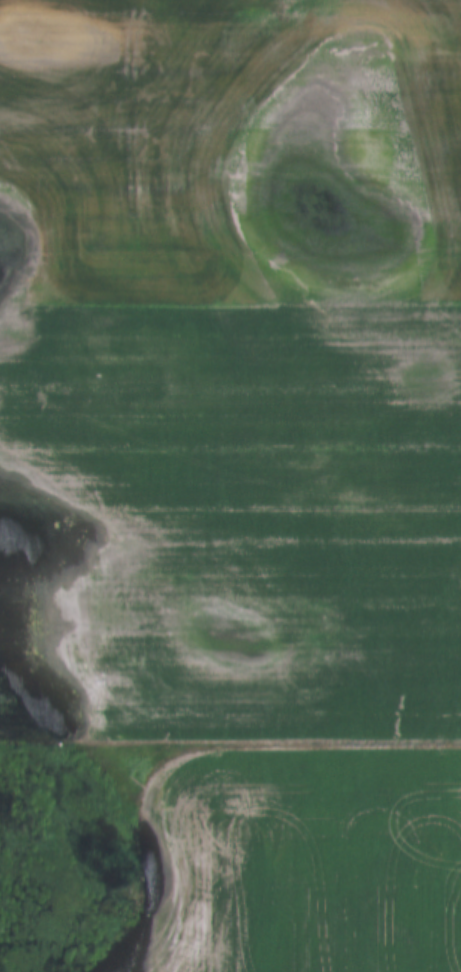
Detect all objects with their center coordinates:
crop: (230, 475)

